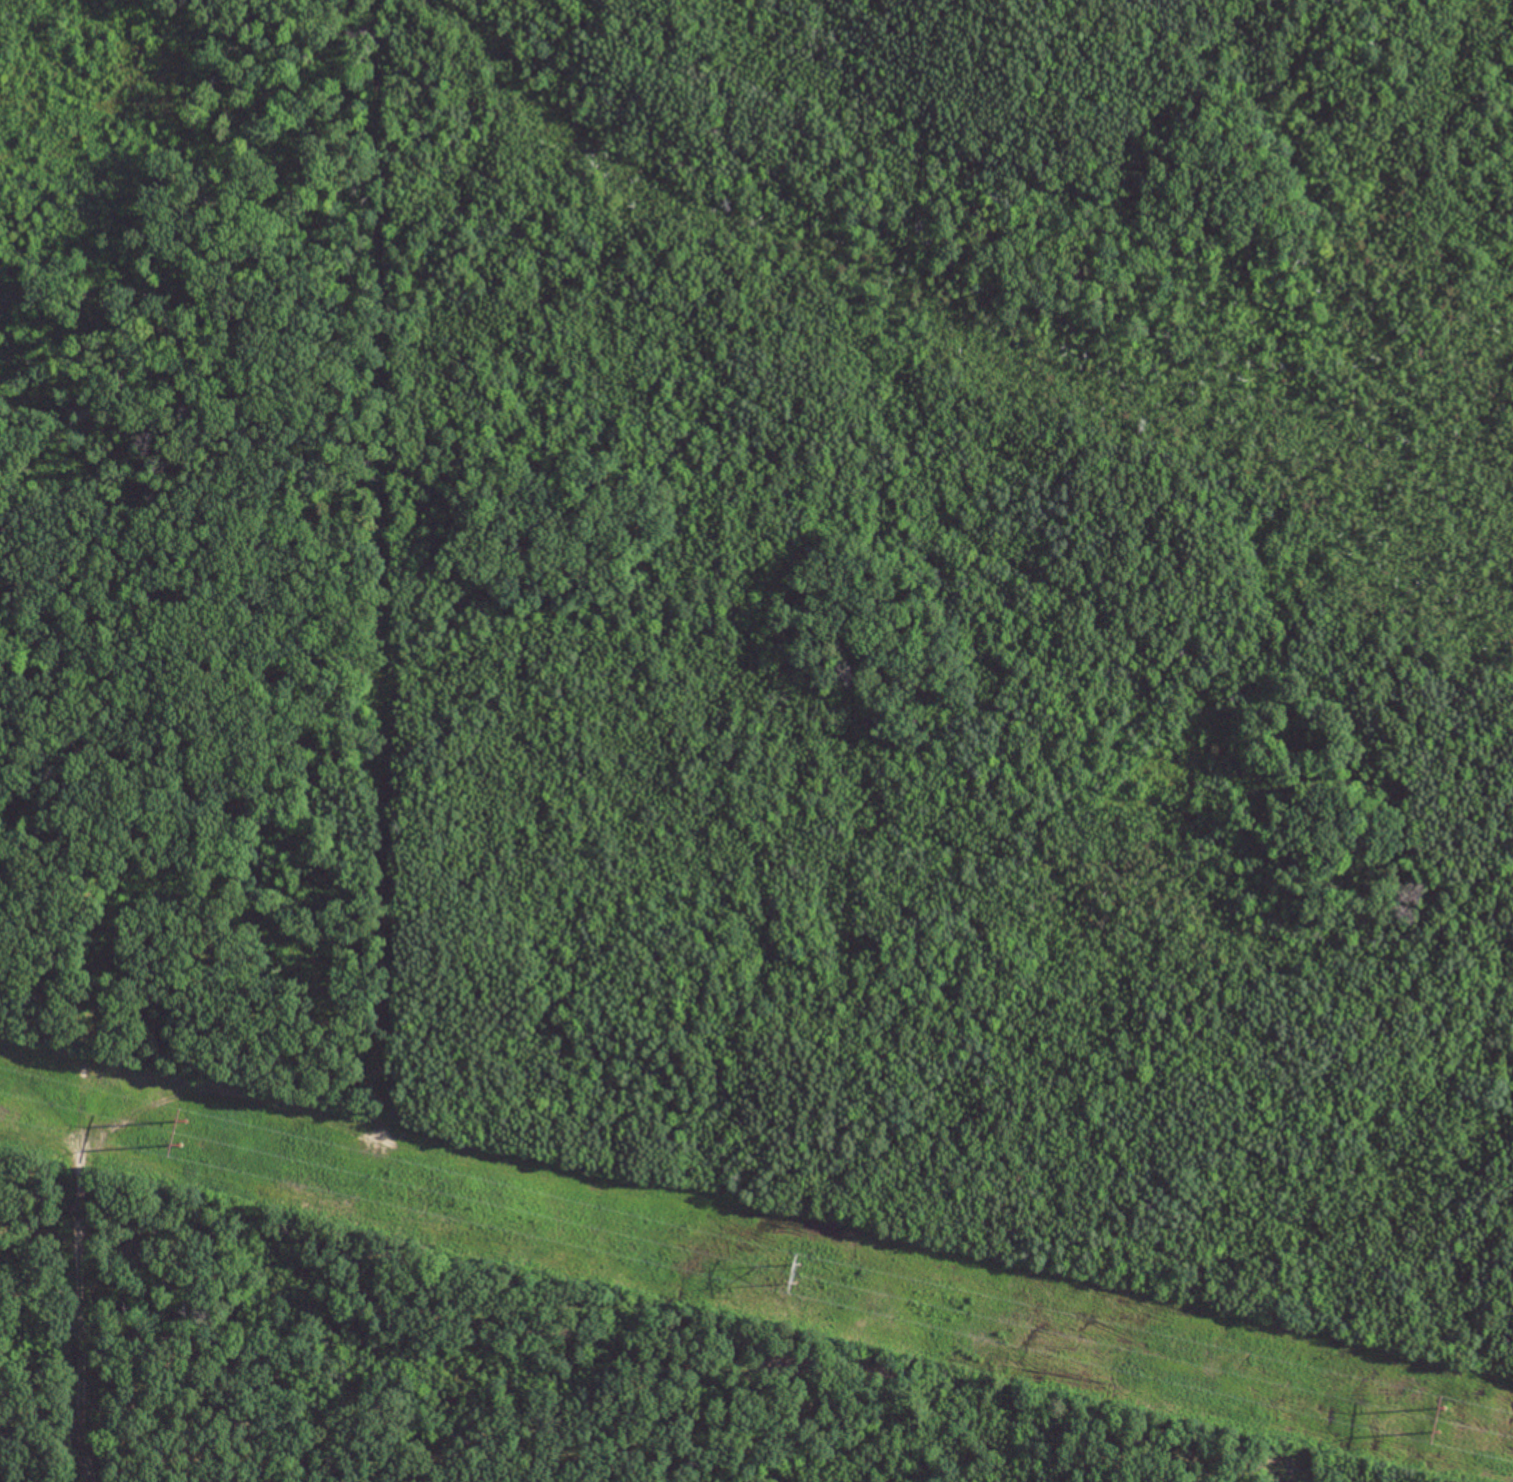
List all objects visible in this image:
power tower: (182, 1133)
power tower: (796, 1274)
power tower: (1439, 1423)

